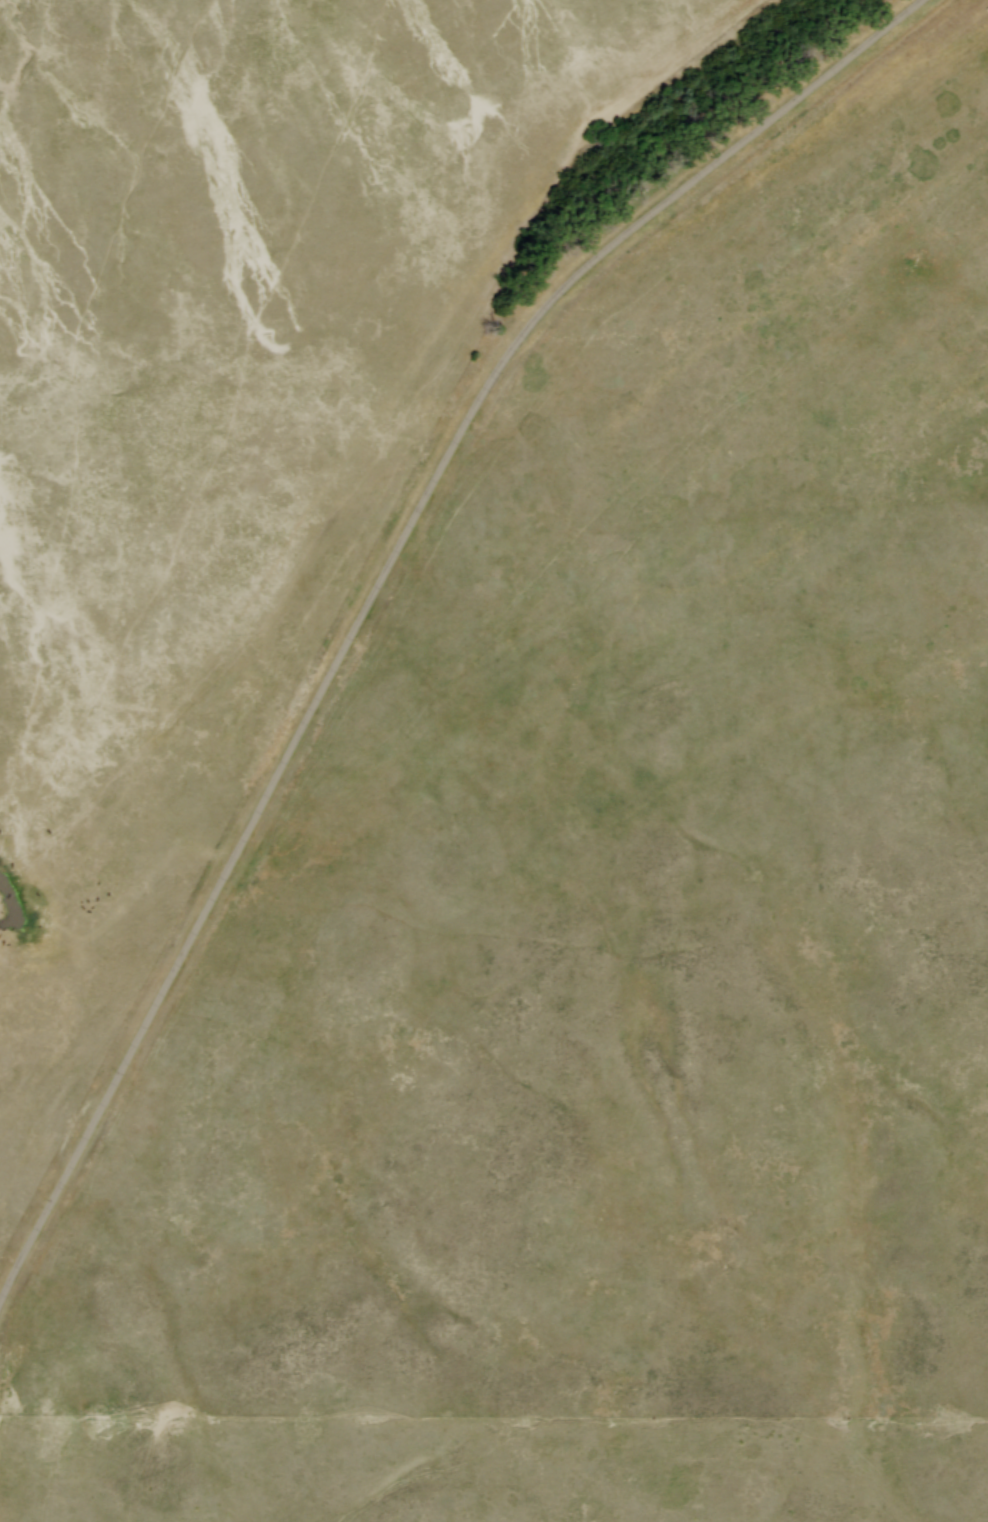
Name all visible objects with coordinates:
road: (377, 582)

